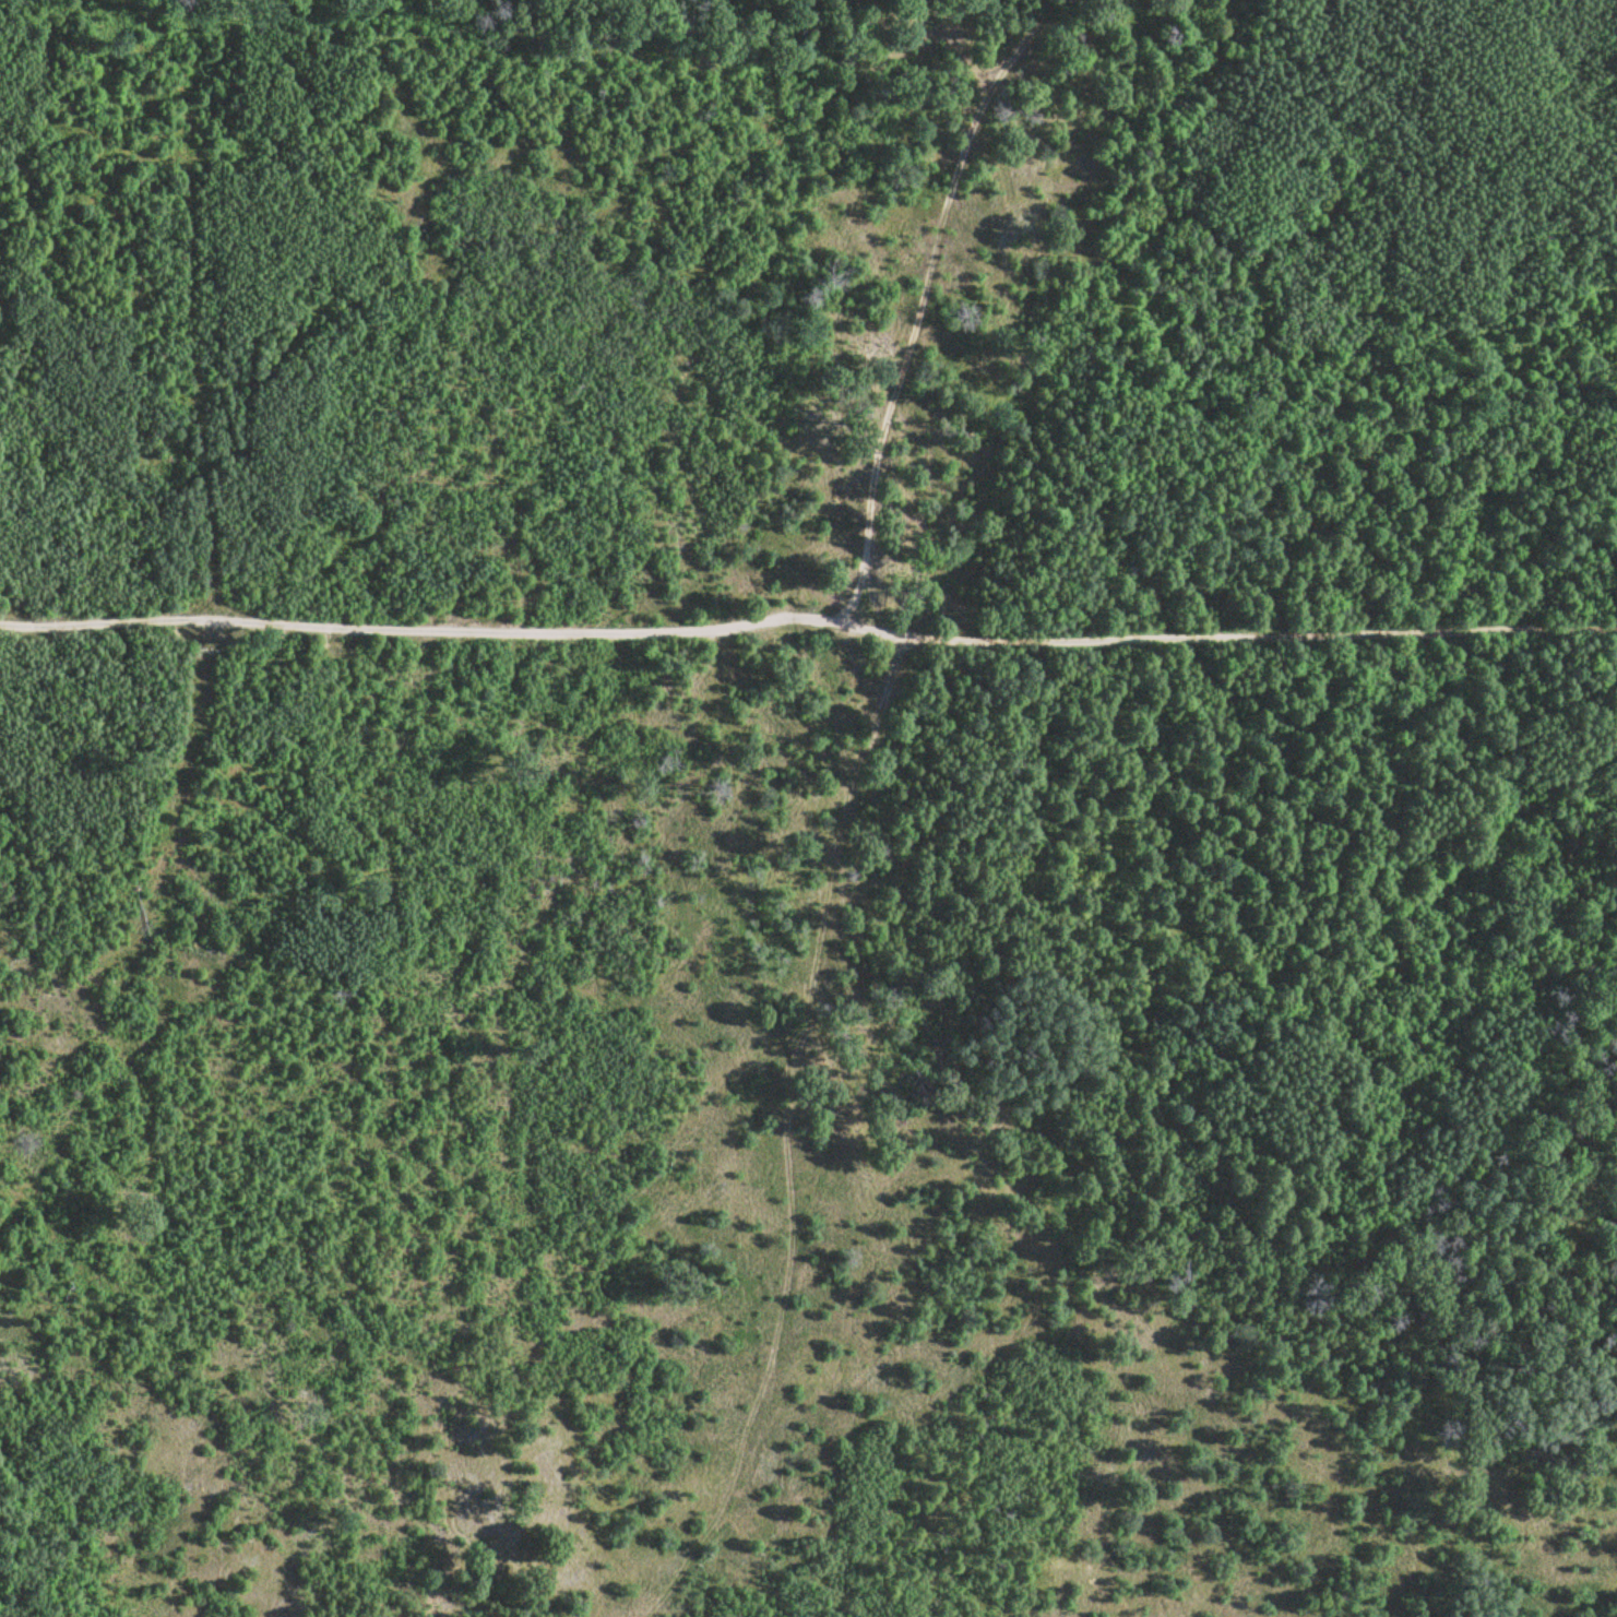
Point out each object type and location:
road: (925, 295)
road: (812, 618)

